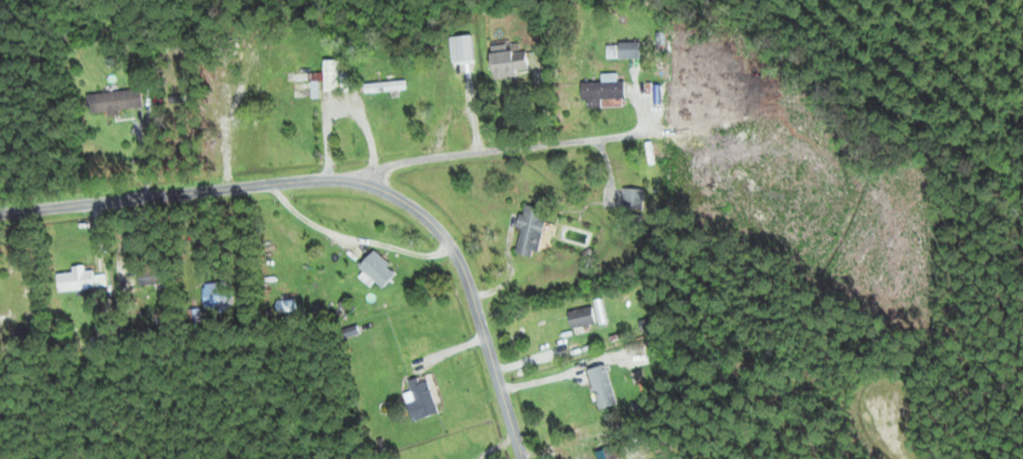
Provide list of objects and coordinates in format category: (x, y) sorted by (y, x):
building: (506, 60)
building: (302, 79)
building: (385, 84)
building: (594, 90)
building: (116, 100)
road: (353, 178)
building: (634, 197)
building: (531, 228)
building: (378, 268)
building: (77, 278)
building: (582, 316)
building: (603, 384)
building: (422, 397)
building: (610, 453)

